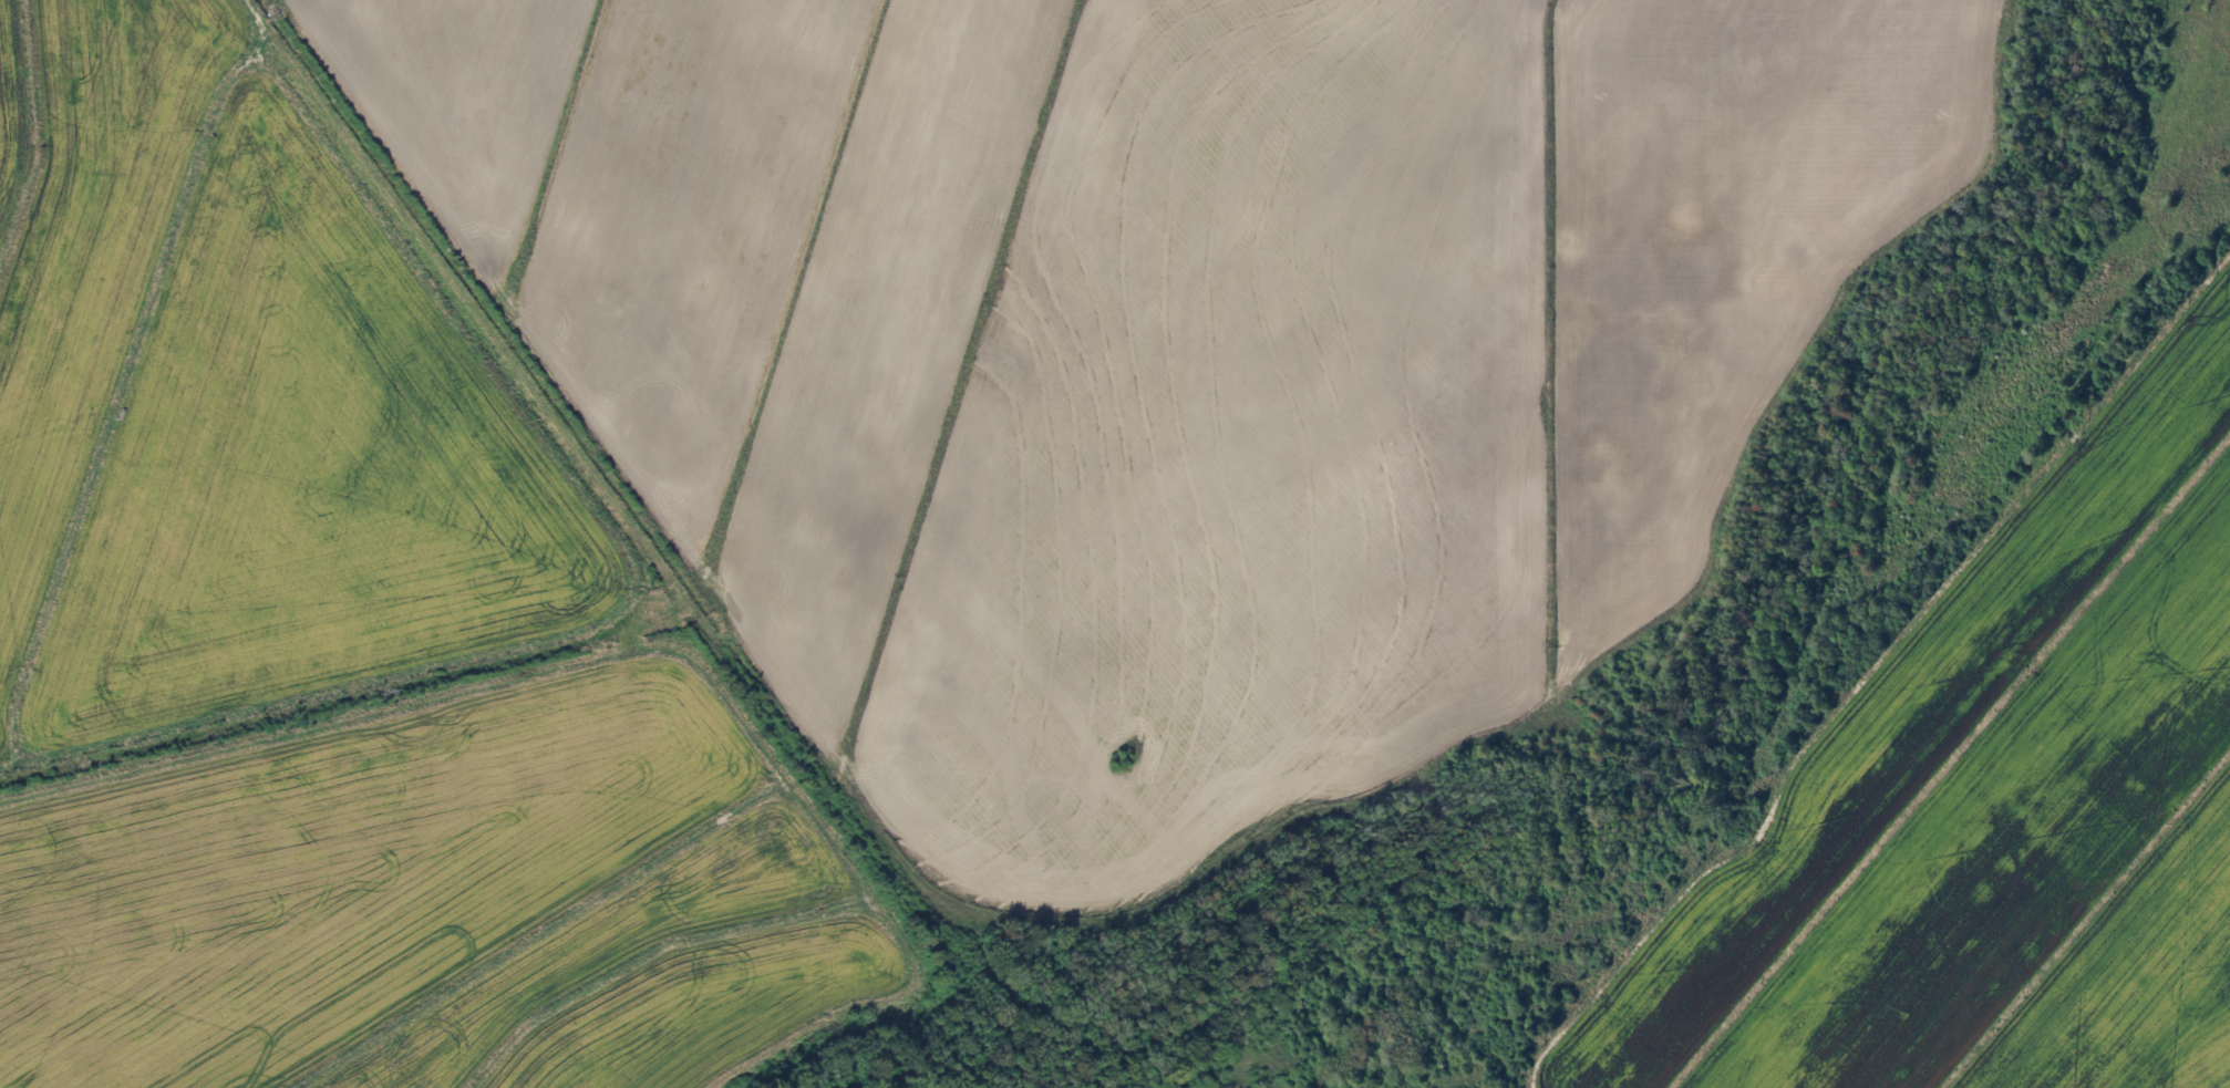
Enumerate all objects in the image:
road: (571, 447)

